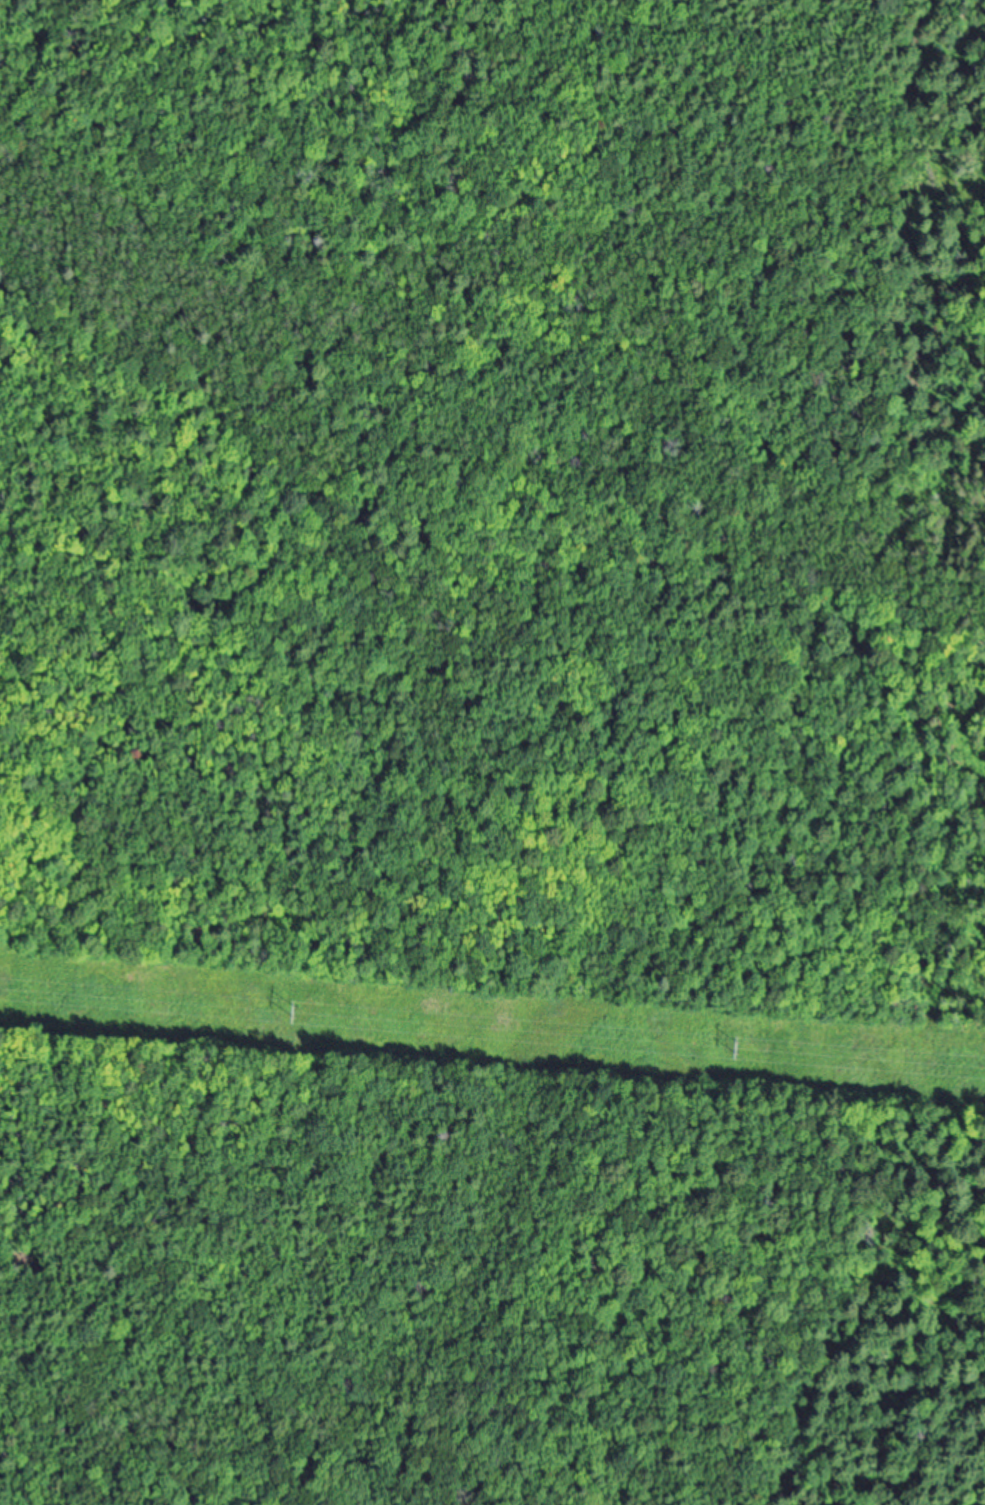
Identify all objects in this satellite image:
power tower: (292, 1016)
power tower: (744, 1050)

